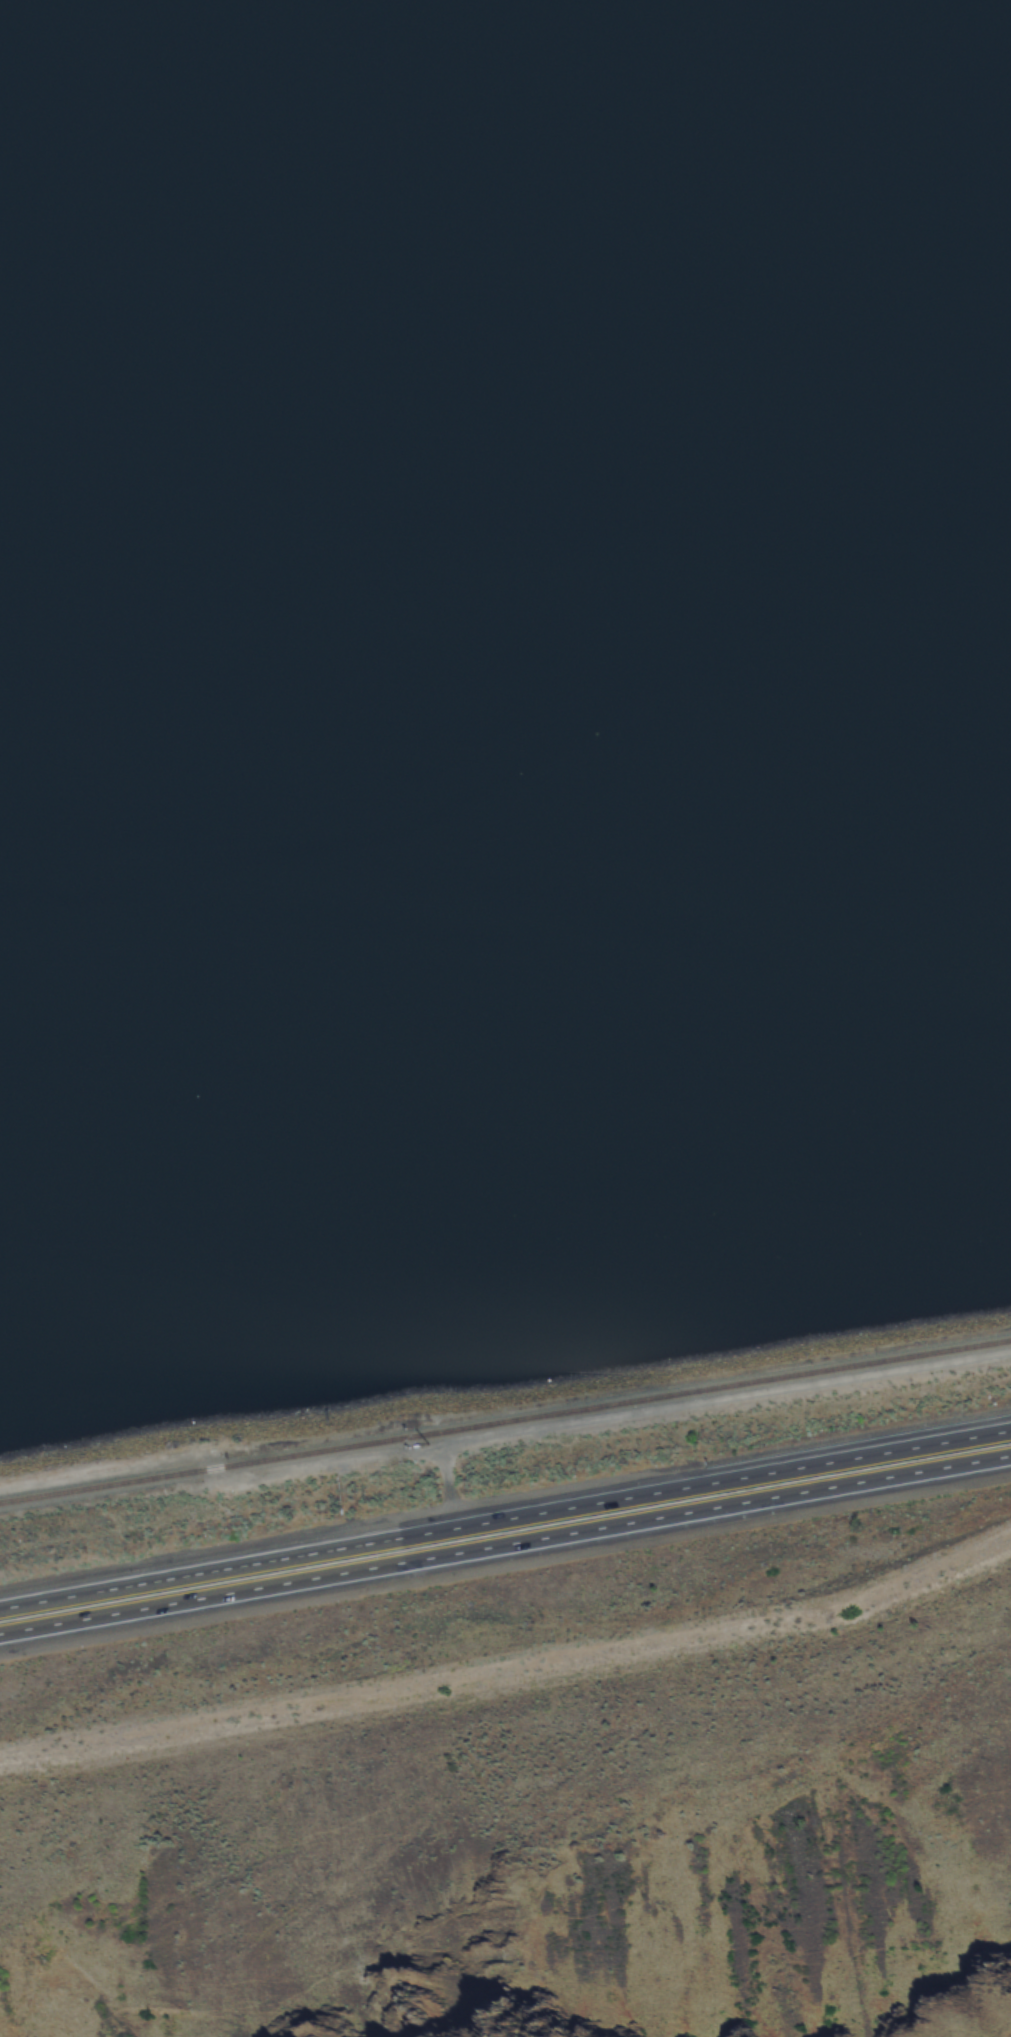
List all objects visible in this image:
railway: (505, 1424)
road: (505, 1524)
road: (505, 1555)

